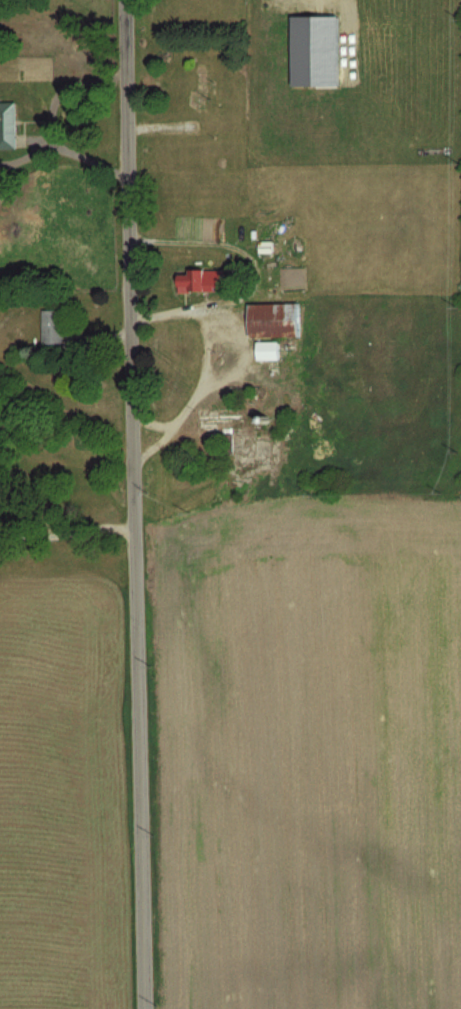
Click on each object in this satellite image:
building: (319, 51)
building: (201, 87)
road: (52, 121)
building: (8, 124)
building: (202, 279)
building: (274, 318)
building: (53, 325)
building: (269, 349)
road: (208, 357)
building: (225, 421)
road: (136, 504)
road: (67, 530)

